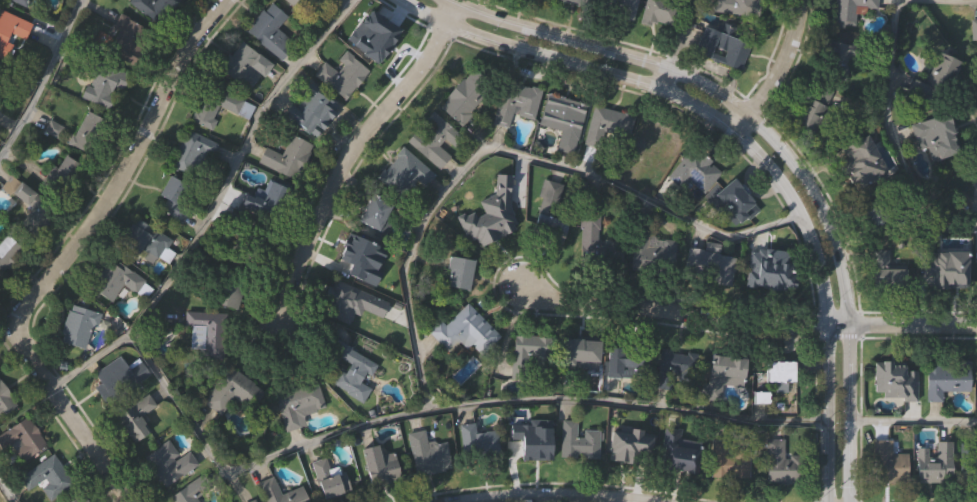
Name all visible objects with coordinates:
building: (17, 1)
road: (953, 1)
building: (142, 4)
building: (609, 6)
building: (735, 7)
building: (847, 10)
building: (659, 11)
building: (12, 26)
building: (268, 30)
building: (973, 31)
building: (125, 39)
building: (372, 40)
road: (677, 44)
building: (719, 44)
road: (601, 47)
building: (835, 58)
road: (569, 61)
building: (243, 63)
road: (773, 71)
building: (340, 74)
road: (43, 75)
building: (938, 78)
building: (97, 86)
building: (464, 93)
building: (515, 101)
building: (213, 104)
building: (809, 113)
building: (311, 114)
building: (562, 118)
building: (607, 128)
building: (86, 134)
building: (935, 135)
road: (893, 136)
building: (433, 138)
building: (650, 143)
road: (349, 150)
building: (191, 151)
building: (285, 156)
road: (509, 156)
building: (859, 161)
building: (62, 168)
building: (695, 171)
building: (402, 173)
building: (974, 174)
building: (18, 191)
building: (171, 198)
building: (734, 201)
road: (218, 209)
building: (374, 212)
building: (869, 212)
building: (489, 222)
building: (548, 226)
building: (588, 233)
building: (143, 240)
building: (652, 249)
building: (7, 251)
road: (68, 255)
building: (880, 264)
building: (366, 266)
building: (769, 266)
building: (938, 266)
building: (718, 269)
building: (457, 272)
building: (116, 280)
road: (841, 293)
building: (347, 301)
road: (824, 303)
road: (748, 322)
building: (77, 326)
building: (463, 330)
building: (207, 331)
building: (529, 353)
building: (576, 354)
building: (626, 362)
building: (674, 367)
building: (723, 368)
building: (350, 370)
building: (778, 373)
building: (944, 377)
building: (116, 378)
building: (889, 378)
building: (231, 390)
building: (5, 400)
building: (297, 404)
road: (433, 408)
building: (134, 416)
road: (912, 422)
building: (21, 438)
building: (528, 439)
building: (576, 441)
building: (481, 446)
building: (625, 448)
building: (674, 451)
building: (427, 453)
building: (725, 459)
building: (167, 462)
building: (887, 462)
building: (780, 463)
building: (933, 463)
building: (968, 463)
building: (375, 465)
building: (45, 474)
building: (326, 478)
building: (268, 489)
building: (188, 491)
road: (6, 492)
road: (547, 492)
building: (75, 498)

